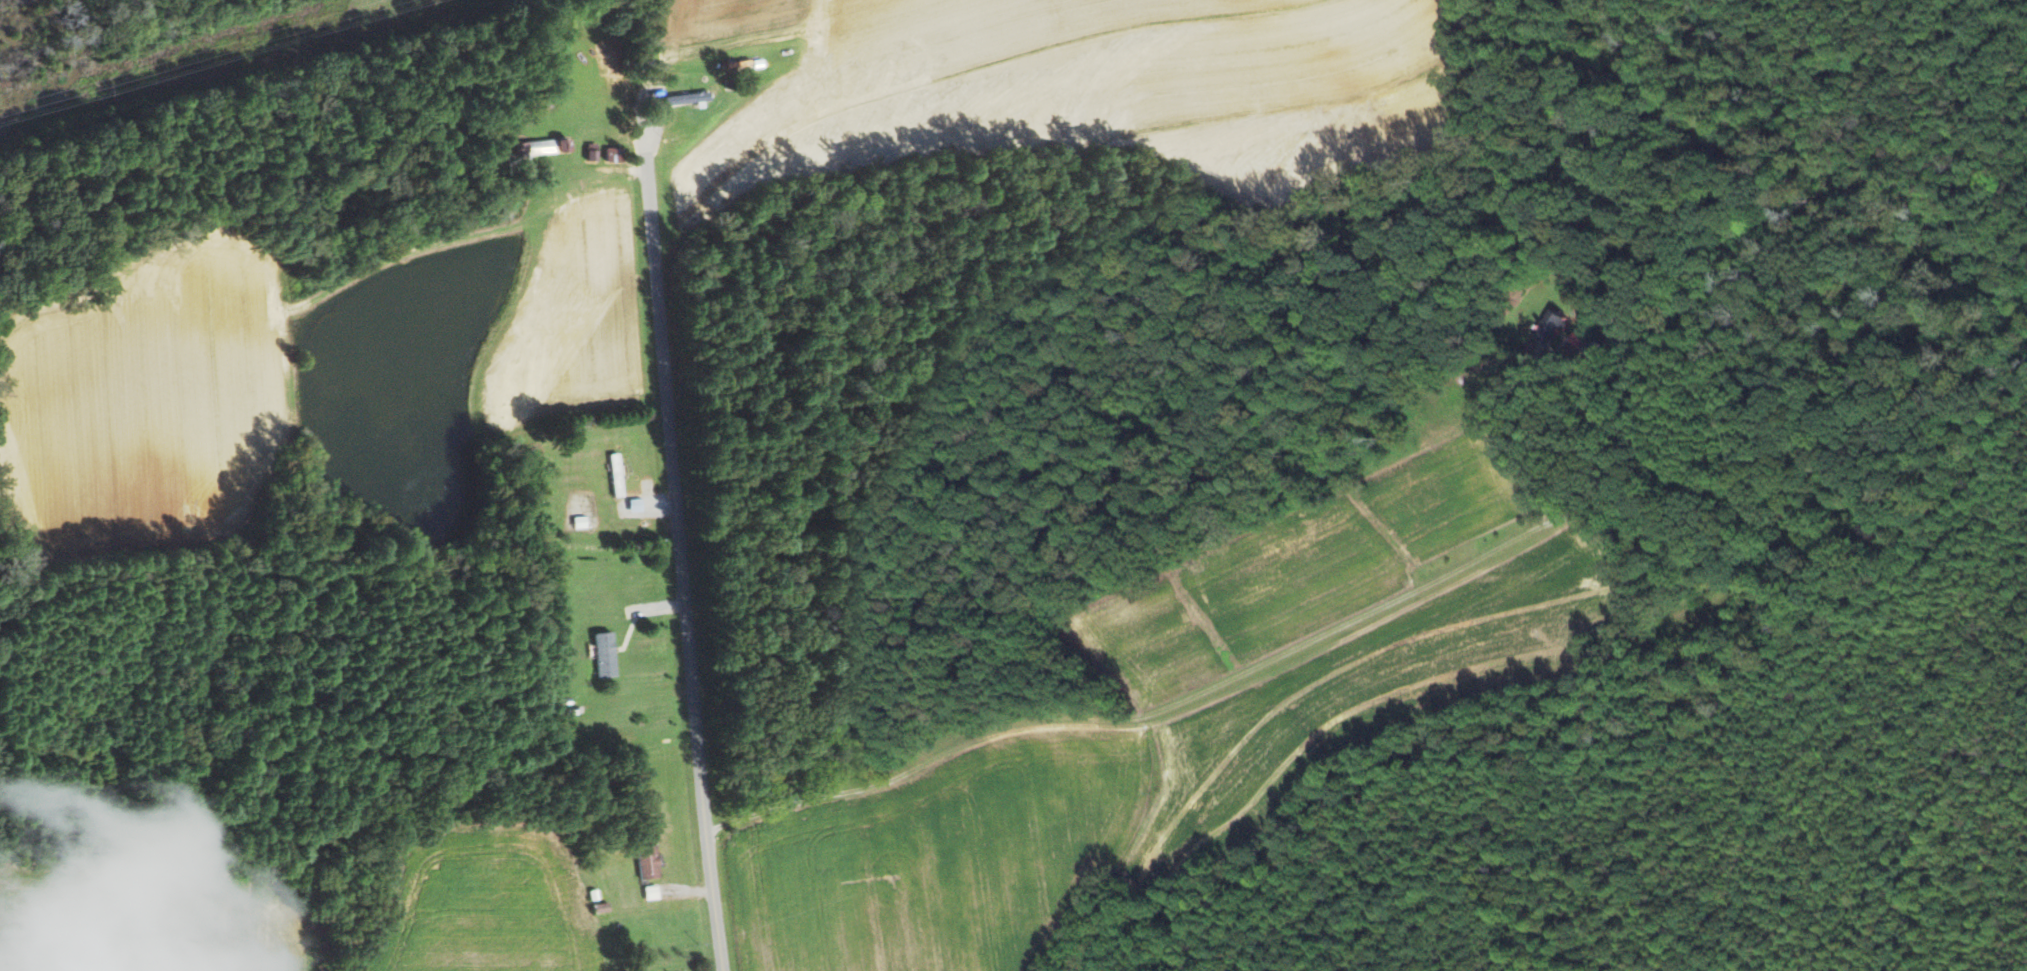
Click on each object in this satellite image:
power tower: (98, 87)
building: (683, 98)
building: (548, 147)
building: (631, 505)
road: (688, 558)
road: (1354, 620)
building: (601, 655)
building: (644, 862)
building: (648, 893)

